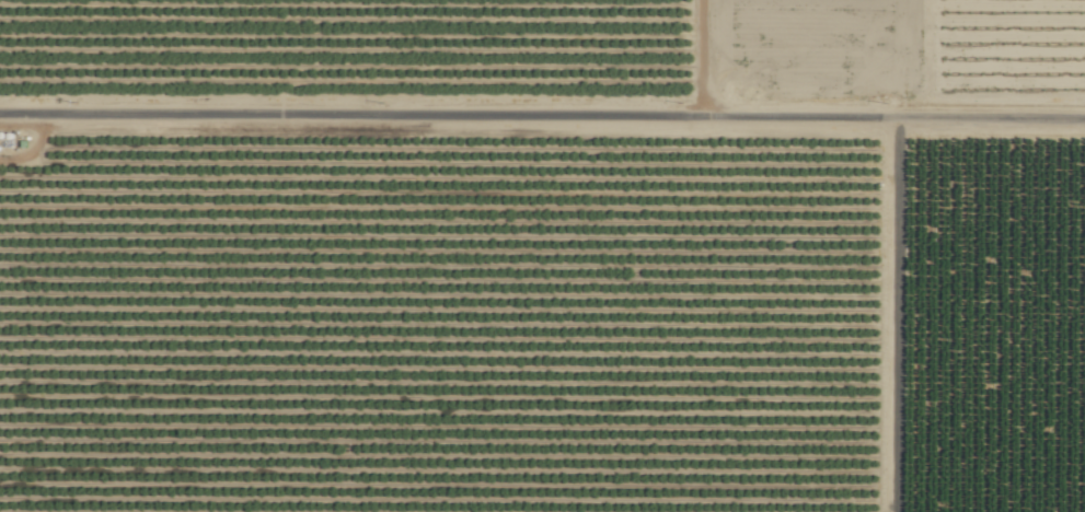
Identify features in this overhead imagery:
road: (542, 133)
crop: (542, 256)

